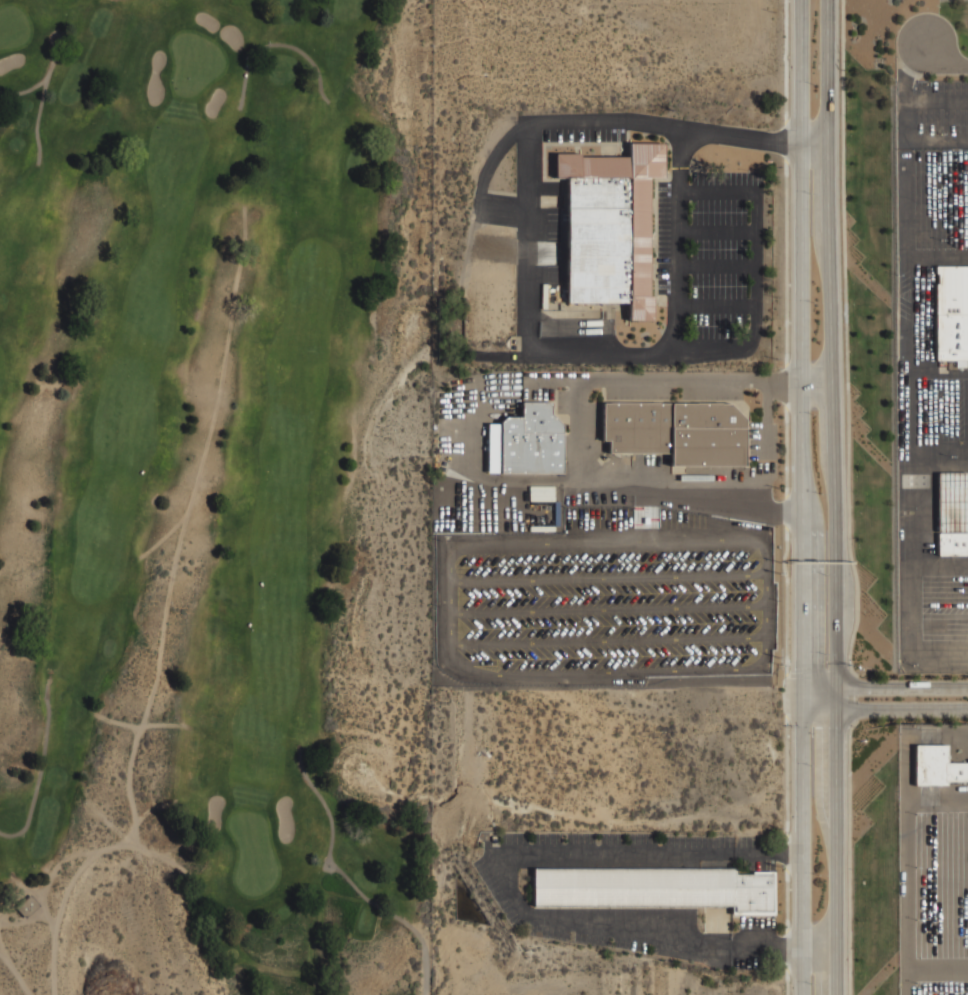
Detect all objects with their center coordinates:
road: (951, 65)
road: (906, 92)
parking lot: (931, 113)
road: (587, 120)
parking lot: (584, 134)
road: (719, 232)
building: (638, 236)
building: (597, 239)
parking lot: (711, 254)
road: (719, 266)
road: (757, 266)
road: (719, 305)
building: (952, 312)
road: (833, 344)
road: (803, 352)
road: (602, 356)
road: (819, 383)
parking lot: (931, 410)
building: (679, 432)
building: (533, 440)
park: (213, 497)
building: (952, 513)
road: (849, 600)
parking lot: (605, 612)
traffic signals: (806, 668)
road: (887, 689)
road: (887, 705)
traffic signals: (837, 726)
building: (937, 766)
road: (837, 842)
road: (804, 850)
parking lot: (932, 858)
road: (348, 879)
building: (652, 887)
building: (27, 906)
road: (820, 947)

